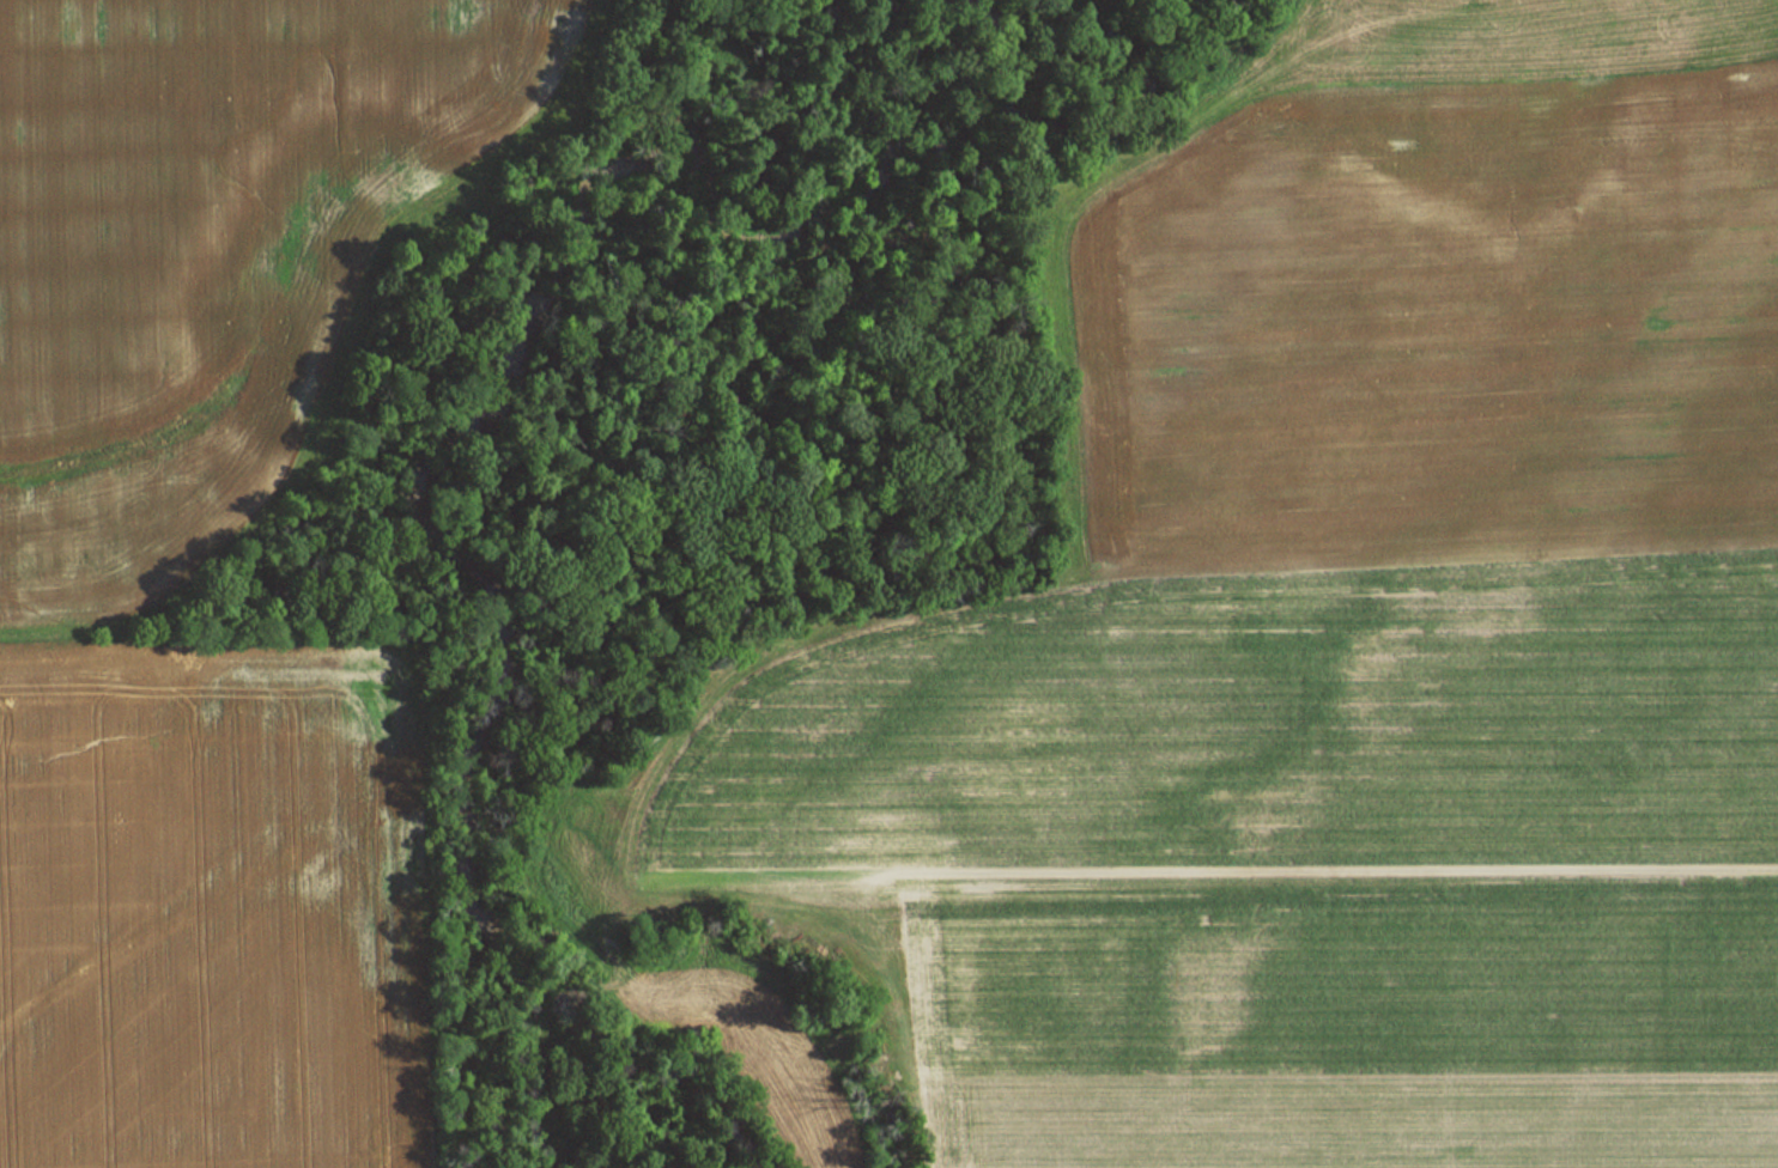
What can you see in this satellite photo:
crop: (202, 251)
crop: (1436, 324)
crop: (1287, 853)
crop: (205, 904)

